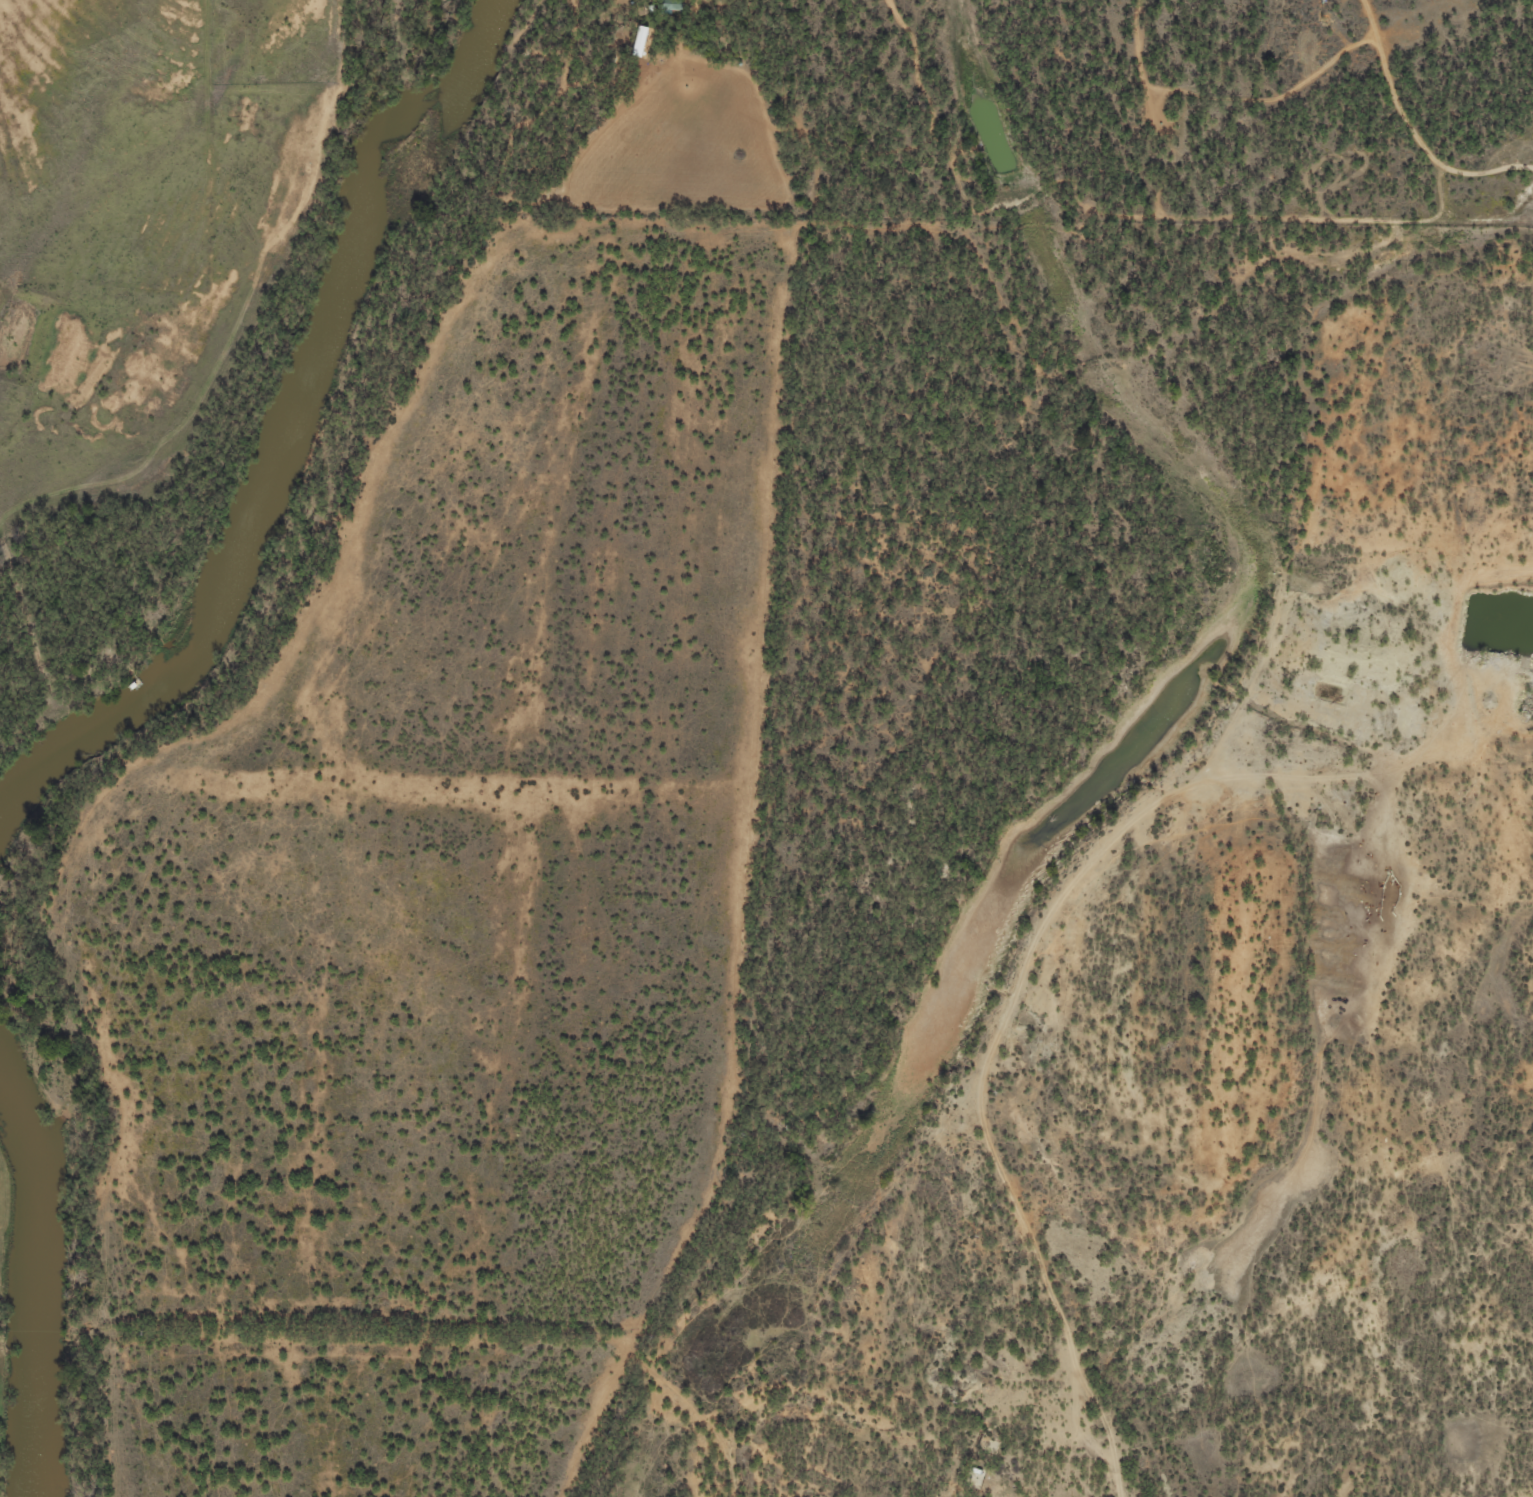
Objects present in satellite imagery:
building: (642, 40)
road: (1071, 1373)

